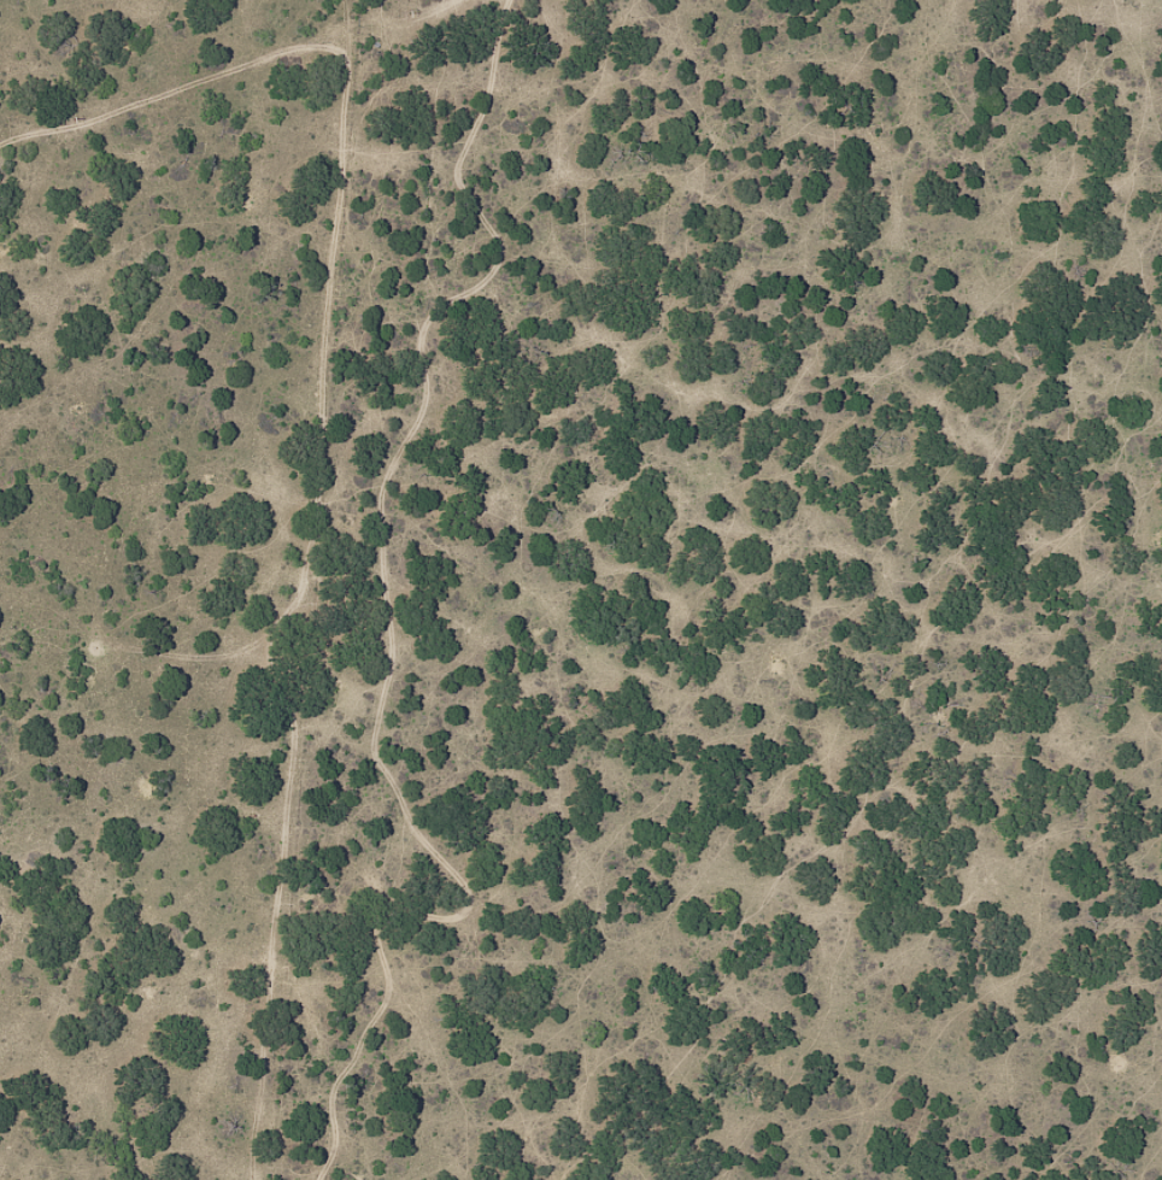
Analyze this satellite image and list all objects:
power tower: (410, 14)
road: (294, 102)
power tower: (76, 118)

